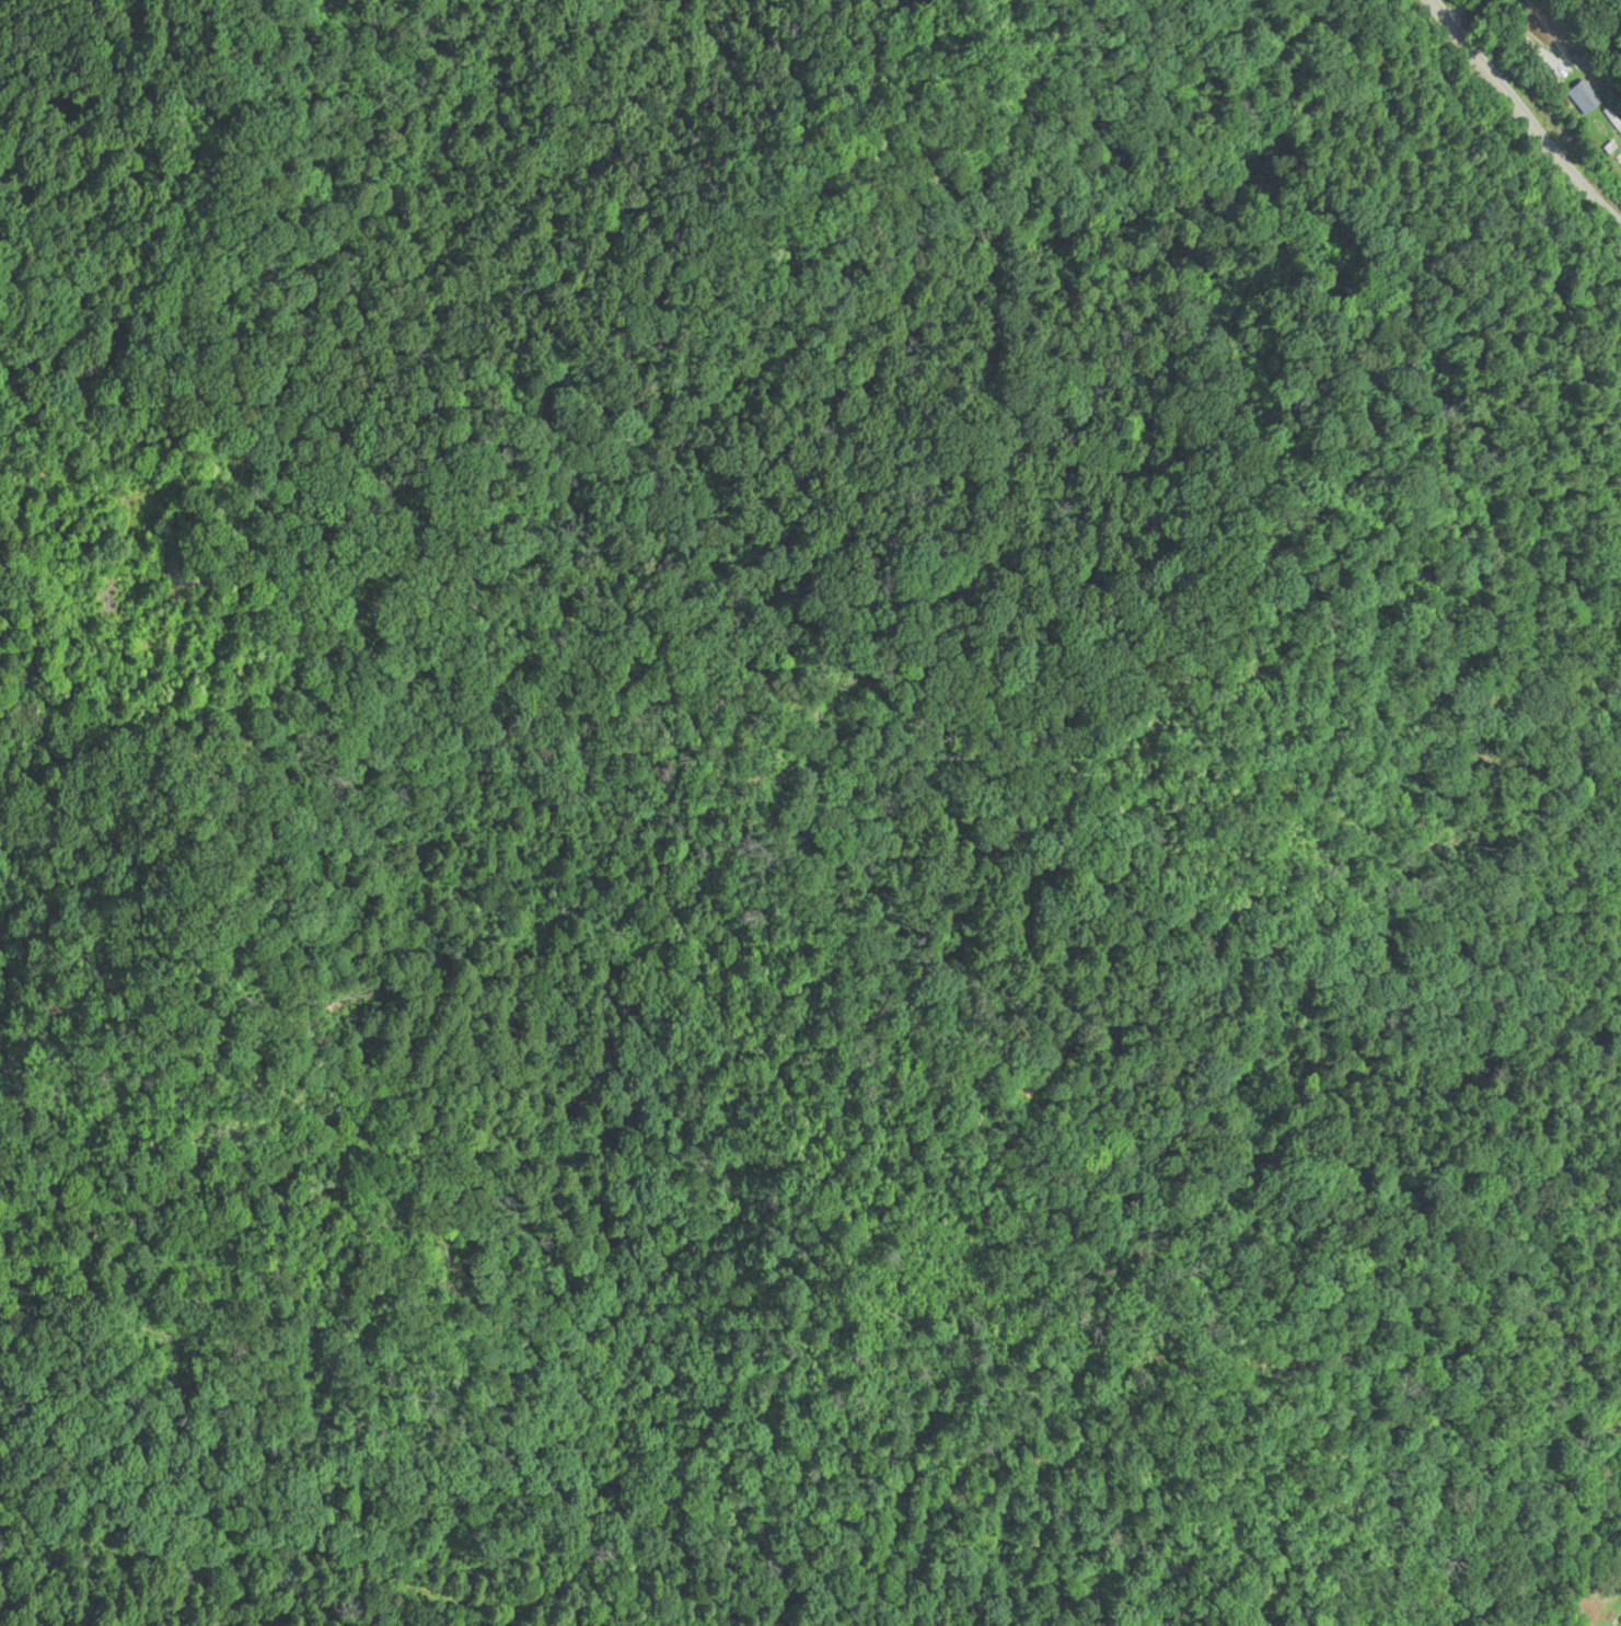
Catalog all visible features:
road: (1526, 111)

